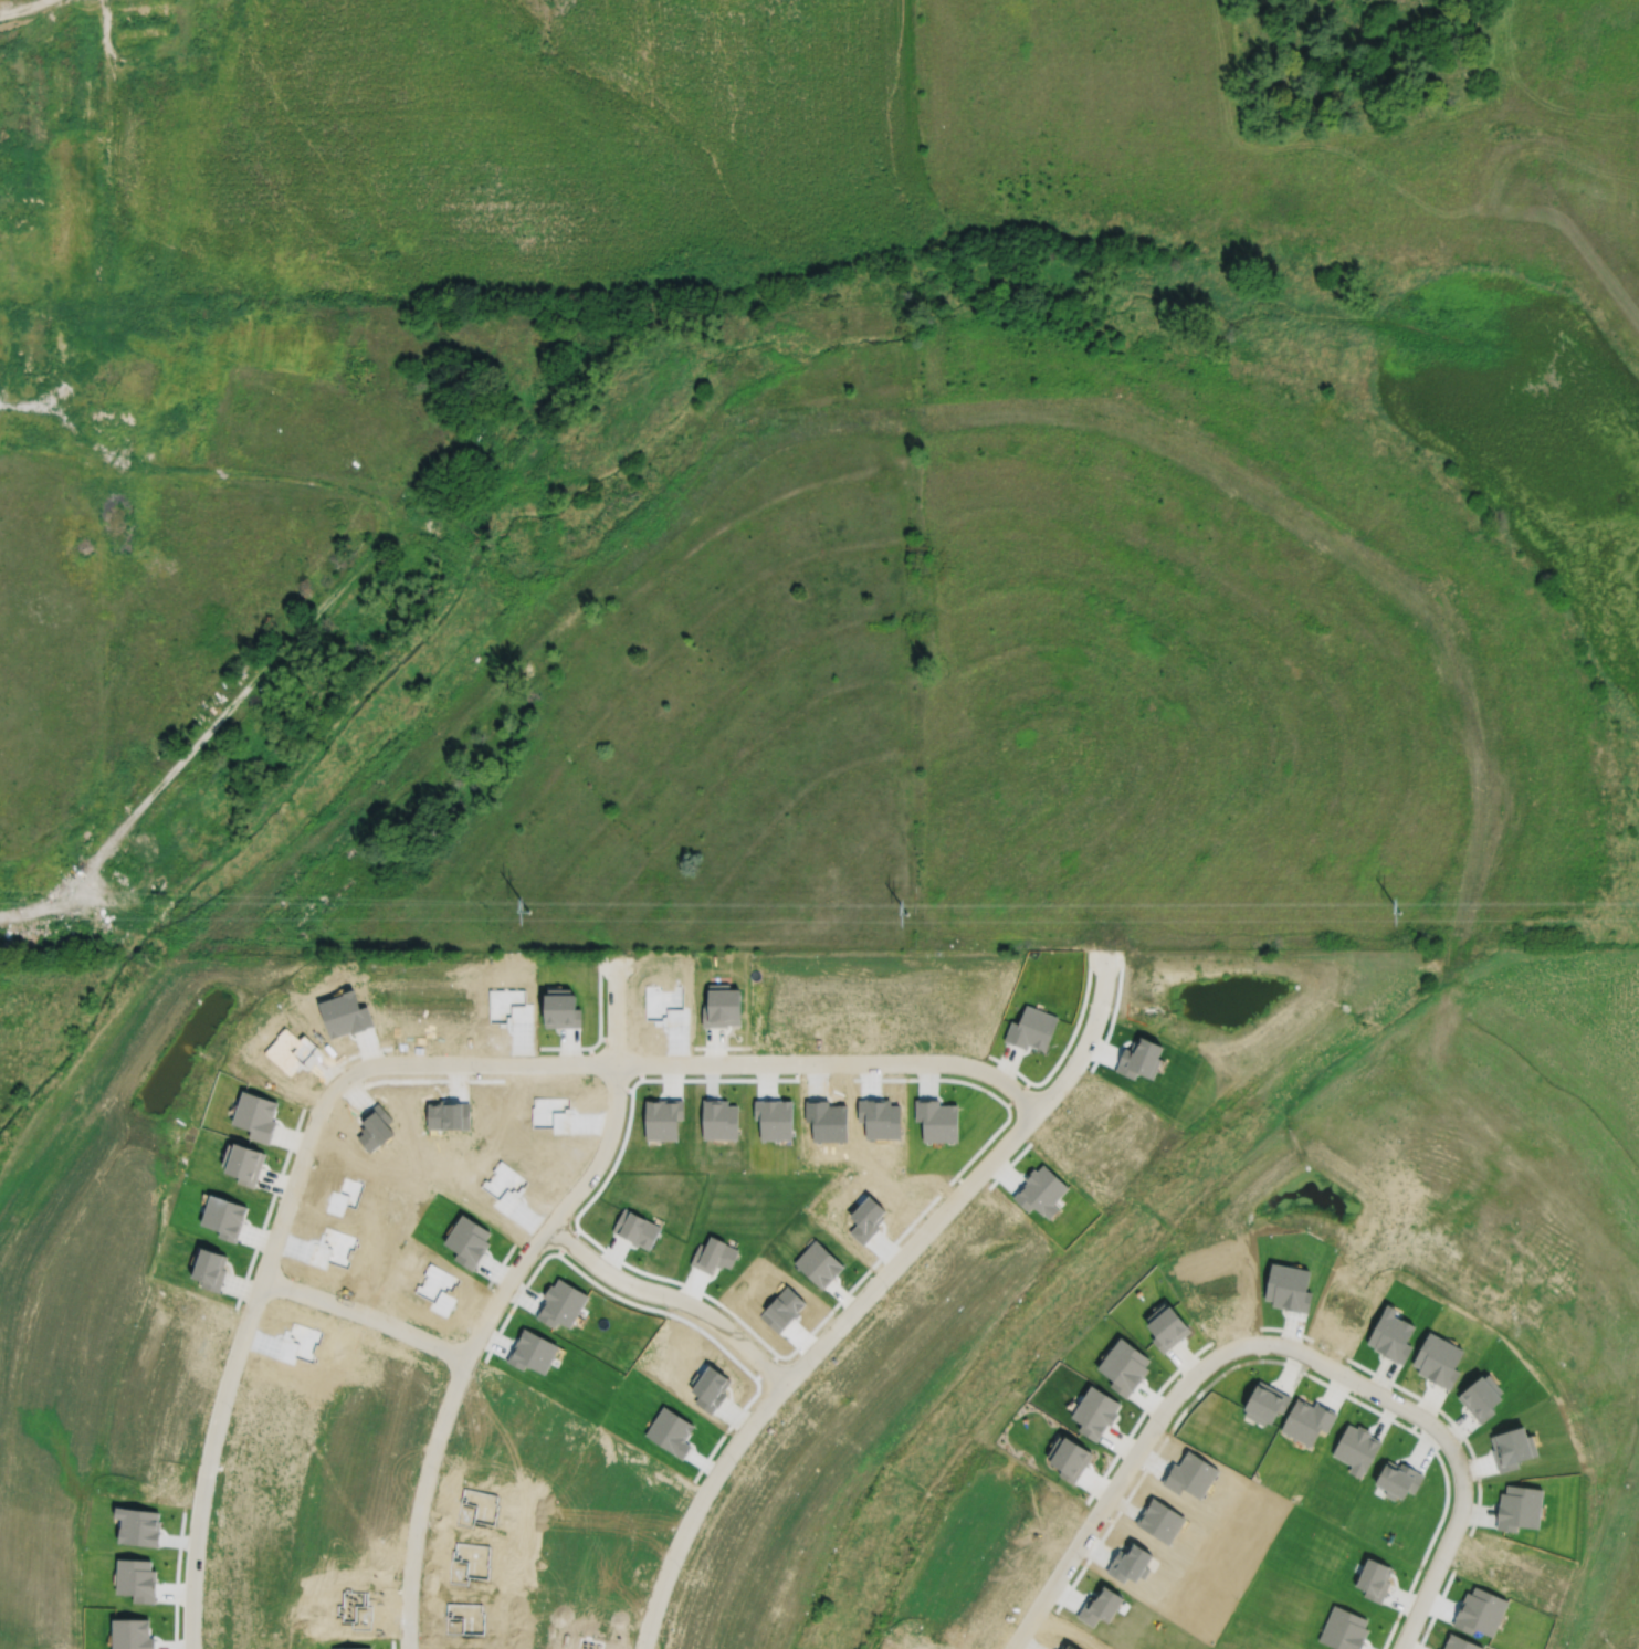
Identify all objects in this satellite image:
building: (141, 18)
building: (6, 174)
dam: (1584, 244)
building: (43, 346)
road: (969, 408)
road: (19, 410)
building: (102, 416)
road: (332, 590)
power tower: (529, 907)
power tower: (906, 911)
power tower: (1397, 911)
road: (706, 1062)
building: (635, 1228)
building: (465, 1240)
building: (712, 1253)
road: (501, 1292)
road: (868, 1292)
road: (669, 1296)
building: (558, 1303)
road: (365, 1314)
road: (239, 1344)
building: (530, 1351)
road: (1367, 1388)
road: (1115, 1483)
road: (1437, 1563)

